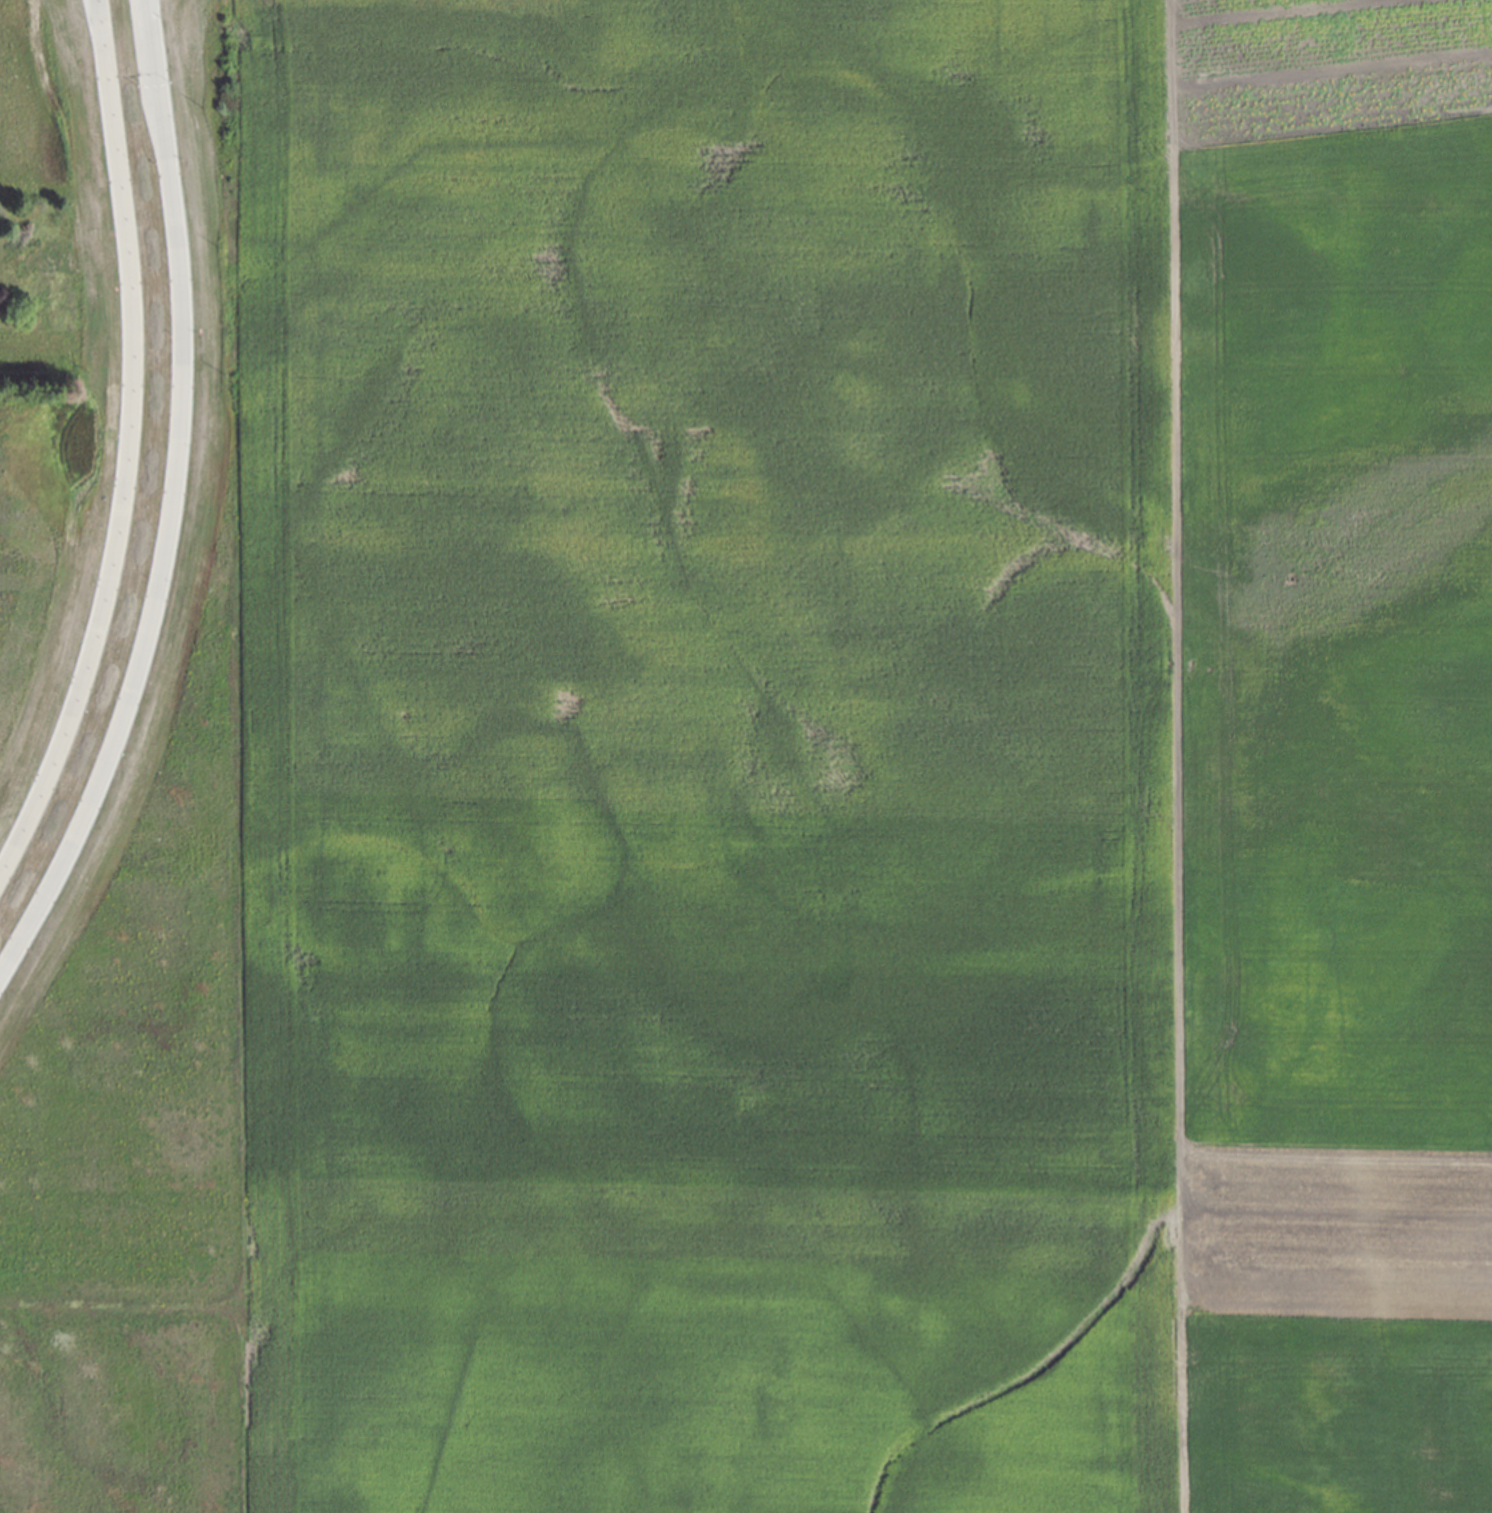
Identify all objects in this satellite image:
road: (147, 16)
road: (132, 446)
road: (173, 500)
crop: (746, 756)
road: (1168, 756)

